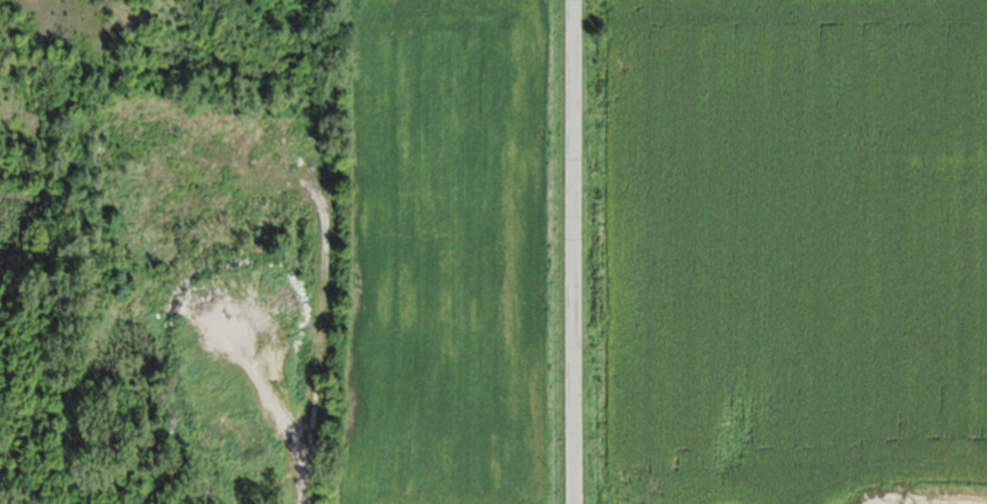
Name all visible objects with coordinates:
quarry: (160, 248)
road: (575, 251)

